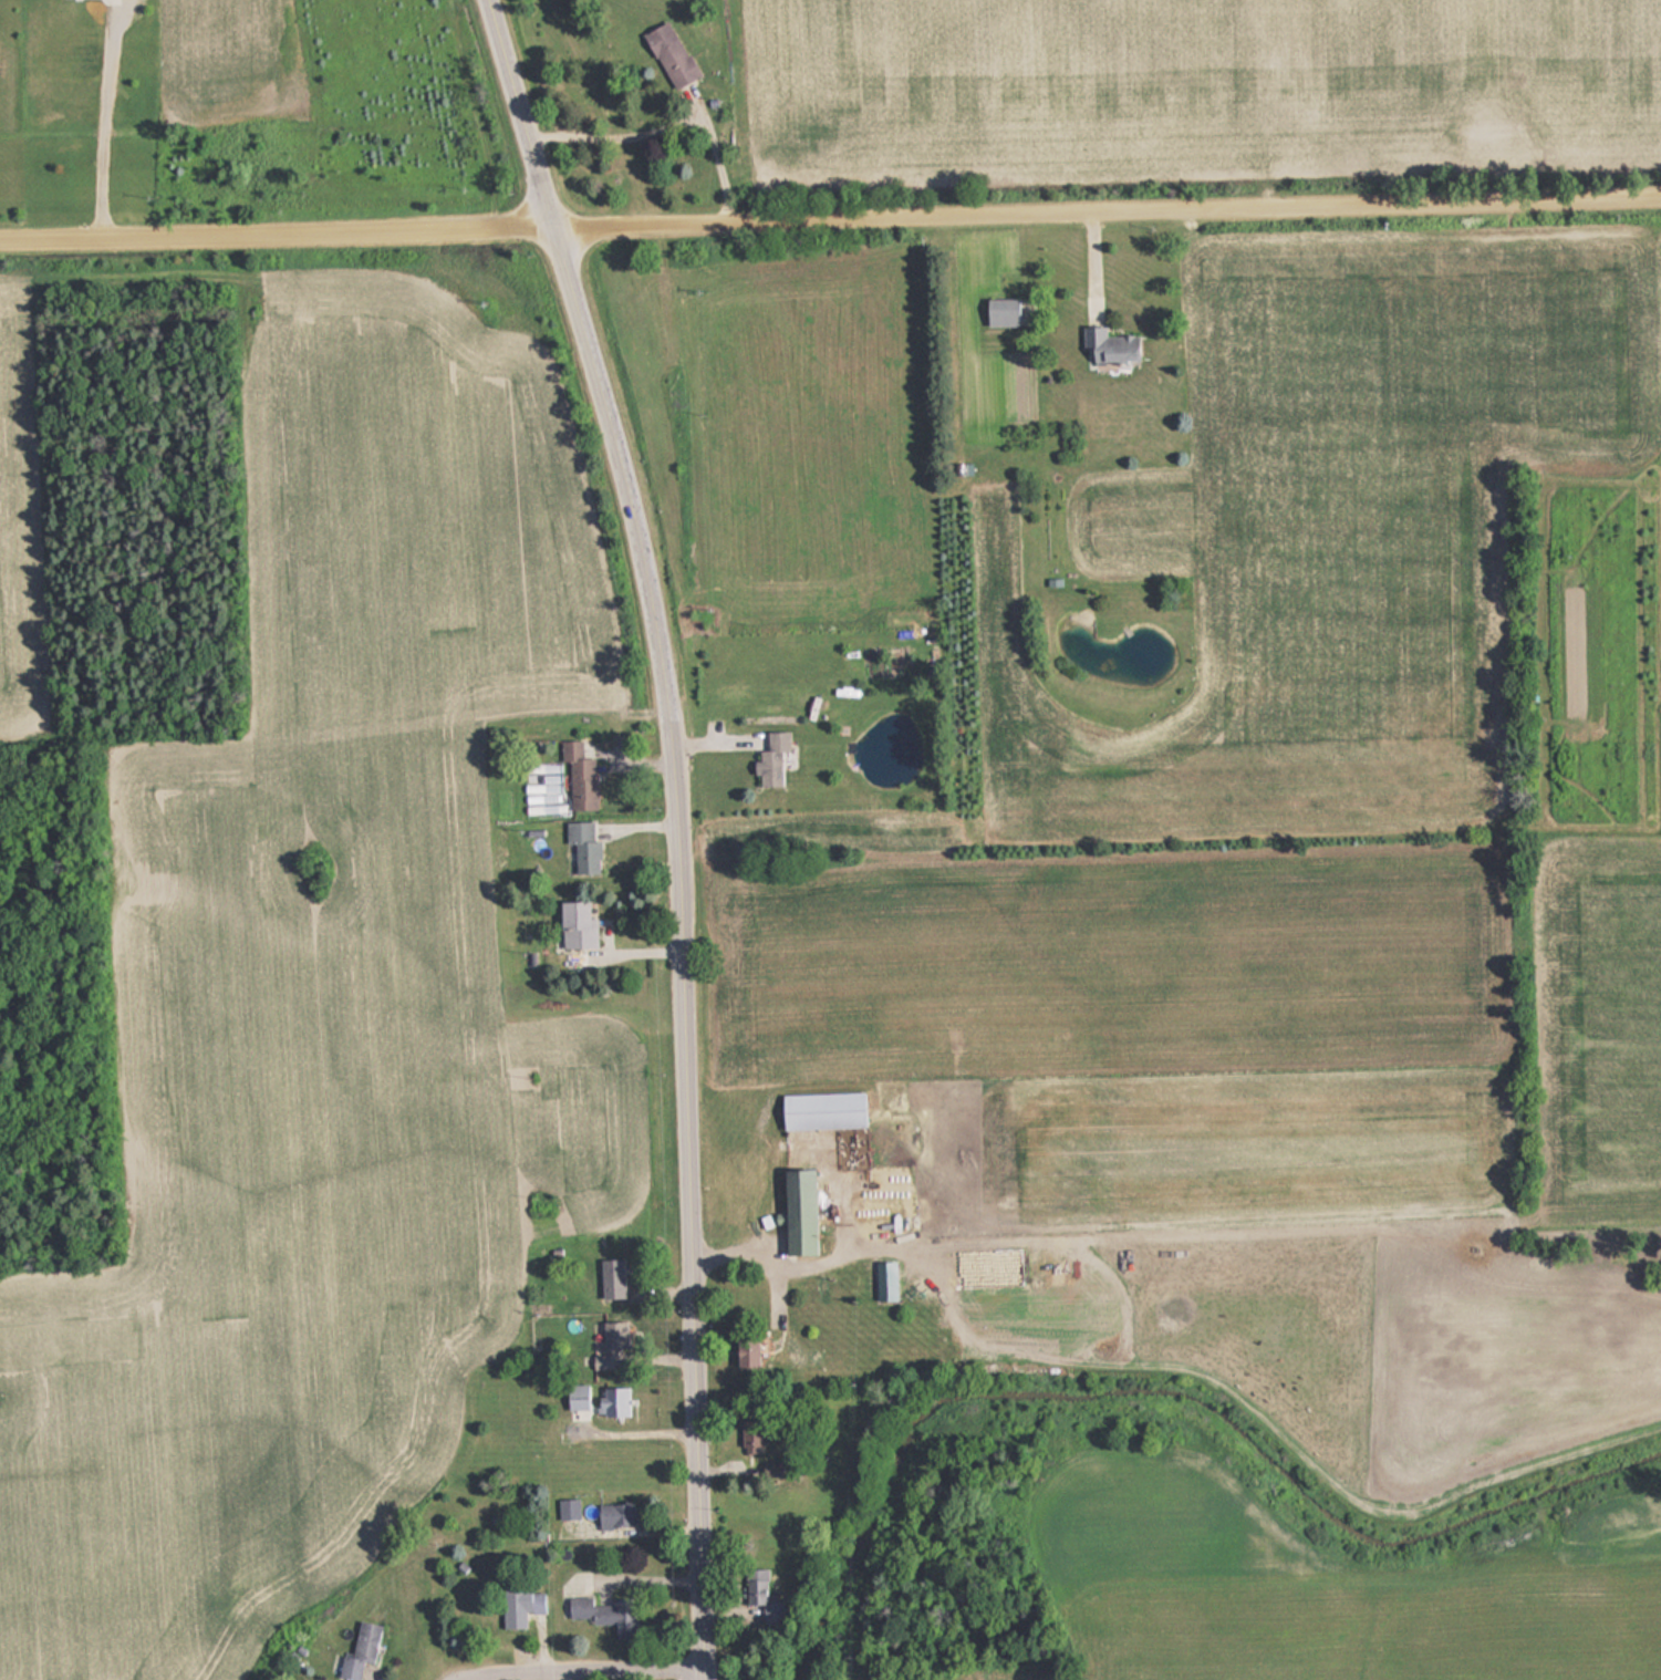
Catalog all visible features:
building: (668, 54)
road: (830, 216)
building: (1000, 312)
building: (1108, 345)
road: (592, 355)
building: (962, 469)
building: (770, 758)
building: (580, 778)
building: (583, 844)
building: (574, 924)
building: (820, 1110)
road: (689, 1199)
building: (797, 1212)
building: (611, 1278)
building: (883, 1280)
building: (610, 1345)
building: (741, 1351)
building: (575, 1397)
building: (610, 1401)
building: (752, 1438)
building: (568, 1508)
building: (614, 1514)
building: (755, 1586)
building: (518, 1604)
building: (604, 1614)
building: (359, 1650)
road: (572, 1660)

